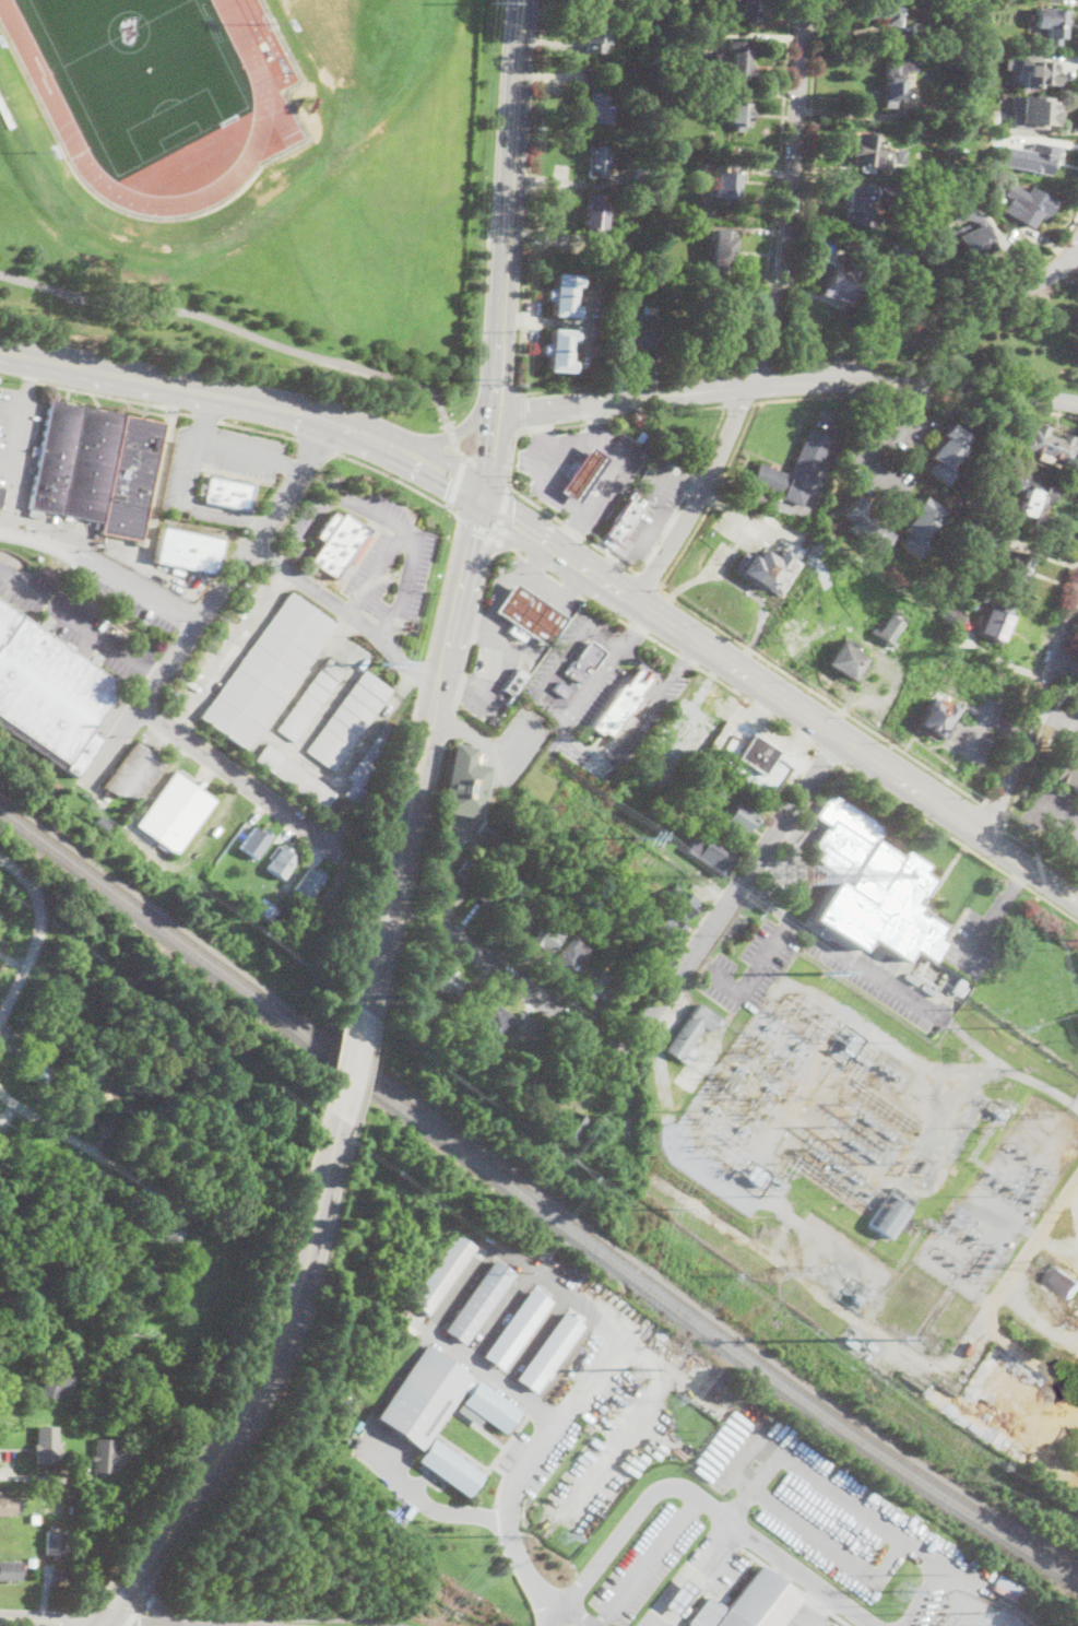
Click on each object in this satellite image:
power tower: (491, 2)
building: (593, 3)
building: (748, 10)
building: (884, 11)
building: (633, 13)
building: (872, 14)
building: (1053, 26)
building: (919, 31)
building: (593, 38)
building: (933, 51)
building: (976, 59)
building: (742, 61)
building: (633, 68)
building: (1033, 70)
park: (140, 72)
building: (901, 76)
track: (269, 104)
building: (601, 108)
building: (1034, 111)
building: (741, 116)
building: (870, 155)
building: (899, 155)
building: (1039, 158)
building: (599, 162)
road: (510, 167)
building: (932, 172)
building: (643, 176)
building: (955, 178)
road: (554, 179)
road: (854, 179)
road: (779, 186)
building: (724, 187)
road: (791, 195)
road: (530, 198)
building: (928, 203)
building: (1029, 205)
building: (855, 207)
building: (597, 214)
building: (638, 224)
building: (928, 226)
building: (974, 241)
building: (899, 250)
building: (722, 251)
building: (842, 257)
building: (820, 266)
building: (655, 283)
building: (843, 285)
building: (710, 290)
building: (674, 292)
building: (564, 295)
road: (948, 311)
building: (720, 316)
road: (541, 320)
park: (212, 326)
road: (236, 328)
building: (641, 331)
park: (1003, 343)
building: (559, 350)
road: (773, 356)
road: (755, 367)
road: (507, 372)
power tower: (467, 379)
road: (630, 380)
road: (913, 382)
road: (765, 384)
road: (187, 387)
road: (733, 388)
road: (114, 396)
road: (812, 397)
road: (626, 398)
road: (924, 398)
road: (739, 403)
road: (208, 409)
road: (522, 411)
road: (204, 415)
road: (637, 415)
road: (483, 416)
road: (597, 417)
road: (541, 425)
road: (257, 428)
road: (451, 434)
parking lot: (20, 435)
building: (641, 435)
road: (433, 438)
road: (318, 441)
building: (1002, 443)
road: (20, 444)
building: (1050, 445)
road: (869, 446)
road: (233, 450)
traffic signals: (481, 450)
road: (457, 452)
building: (946, 455)
road: (470, 457)
road: (498, 457)
road: (632, 457)
parking lot: (216, 458)
road: (493, 460)
road: (430, 464)
road: (291, 467)
building: (97, 469)
building: (793, 471)
road: (509, 475)
building: (584, 475)
gas station: (584, 475)
road: (393, 478)
traffic signals: (451, 479)
road: (457, 481)
road: (689, 481)
building: (225, 493)
building: (1, 495)
road: (301, 495)
road: (697, 495)
building: (987, 497)
road: (193, 499)
road: (187, 502)
parking lot: (654, 504)
building: (1032, 504)
road: (502, 510)
road: (453, 511)
road: (655, 517)
building: (625, 519)
traffic signals: (512, 521)
road: (312, 522)
road: (516, 523)
road: (253, 525)
road: (472, 525)
building: (864, 527)
building: (919, 528)
road: (664, 529)
road: (571, 530)
road: (568, 531)
road: (491, 532)
traffic signals: (476, 533)
building: (981, 538)
road: (499, 541)
building: (339, 543)
road: (398, 546)
road: (491, 547)
road: (472, 549)
building: (188, 551)
parking lot: (377, 553)
road: (542, 561)
road: (103, 567)
road: (618, 567)
building: (763, 567)
building: (1015, 568)
road: (647, 580)
road: (402, 581)
road: (576, 582)
road: (442, 588)
parking lot: (118, 598)
road: (497, 599)
road: (210, 604)
road: (347, 611)
road: (513, 612)
building: (953, 615)
building: (530, 616)
gas station: (530, 616)
building: (994, 621)
road: (473, 622)
parking lot: (75, 624)
road: (475, 626)
road: (80, 627)
road: (635, 627)
road: (695, 638)
road: (661, 643)
road: (1073, 645)
road: (532, 647)
road: (232, 649)
road: (564, 658)
road: (1066, 659)
building: (848, 661)
power tower: (382, 662)
building: (583, 662)
road: (643, 663)
road: (676, 668)
building: (266, 671)
road: (424, 672)
road: (1030, 681)
building: (517, 682)
road: (459, 684)
road: (592, 685)
building: (561, 690)
building: (49, 693)
road: (820, 694)
building: (311, 699)
building: (620, 704)
road: (1031, 712)
parking lot: (112, 715)
building: (935, 717)
road: (1055, 718)
building: (348, 720)
road: (449, 724)
parking lot: (1070, 726)
road: (411, 730)
road: (470, 731)
road: (1036, 737)
parking lot: (523, 738)
road: (618, 741)
road: (510, 747)
road: (831, 753)
building: (759, 754)
road: (296, 756)
building: (365, 768)
building: (1066, 768)
building: (700, 771)
building: (131, 776)
road: (239, 777)
building: (295, 777)
building: (464, 782)
road: (412, 802)
building: (700, 808)
road: (993, 810)
building: (176, 813)
road: (960, 816)
road: (1056, 817)
building: (742, 818)
parking lot: (1055, 820)
building: (102, 822)
building: (690, 822)
building: (490, 834)
power tower: (636, 839)
road: (961, 840)
building: (257, 841)
road: (1035, 851)
building: (494, 852)
building: (711, 852)
building: (624, 861)
building: (284, 862)
building: (471, 872)
road: (23, 874)
road: (411, 879)
building: (310, 883)
road: (376, 885)
road: (381, 885)
building: (873, 886)
road: (1010, 893)
building: (494, 898)
road: (763, 900)
building: (682, 903)
building: (268, 912)
building: (517, 916)
building: (666, 929)
road: (814, 935)
building: (545, 938)
road: (976, 944)
parking lot: (971, 945)
building: (573, 951)
building: (78, 961)
road: (28, 963)
building: (653, 964)
parking lot: (867, 975)
power tower: (822, 976)
road: (666, 977)
building: (447, 982)
building: (958, 986)
building: (592, 987)
power tower: (979, 1015)
building: (496, 1026)
building: (430, 1030)
building: (691, 1033)
road: (337, 1051)
road: (343, 1054)
road: (353, 1063)
building: (35, 1071)
road: (366, 1072)
building: (127, 1088)
building: (530, 1092)
building: (110, 1098)
building: (75, 1103)
building: (481, 1106)
power tower: (869, 1124)
building: (571, 1127)
power substation: (879, 1133)
building: (0, 1144)
power tower: (852, 1145)
building: (0, 1150)
power tower: (867, 1155)
road: (111, 1159)
power tower: (923, 1169)
railway: (534, 1191)
road: (1073, 1197)
railway: (533, 1203)
power tower: (666, 1209)
building: (891, 1213)
building: (156, 1234)
building: (147, 1235)
building: (176, 1238)
road: (289, 1259)
road: (296, 1263)
power tower: (1040, 1268)
building: (206, 1269)
building: (441, 1272)
power tower: (778, 1276)
building: (1065, 1281)
building: (478, 1300)
building: (645, 1321)
building: (517, 1329)
building: (850, 1343)
building: (869, 1346)
building: (549, 1351)
road: (273, 1352)
power tower: (635, 1370)
road: (284, 1372)
building: (55, 1380)
road: (663, 1390)
building: (423, 1395)
power tower: (674, 1402)
building: (490, 1405)
road: (600, 1419)
power tower: (695, 1440)
building: (46, 1444)
road: (454, 1446)
road: (537, 1446)
parking lot: (540, 1449)
building: (105, 1454)
parking lot: (612, 1457)
building: (449, 1465)
road: (37, 1476)
road: (501, 1481)
building: (71, 1492)
road: (699, 1499)
road: (165, 1500)
building: (9, 1505)
road: (741, 1505)
road: (430, 1506)
parking lot: (832, 1512)
building: (34, 1519)
road: (498, 1524)
power tower: (493, 1537)
power tower: (562, 1540)
building: (54, 1543)
building: (31, 1562)
road: (647, 1563)
parking lot: (644, 1564)
building: (9, 1570)
road: (875, 1576)
road: (933, 1576)
road: (521, 1582)
road: (125, 1593)
power tower: (899, 1593)
building: (680, 1596)
road: (150, 1599)
road: (149, 1600)
building: (750, 1604)
road: (88, 1605)
road: (117, 1605)
road: (162, 1605)
power tower: (875, 1607)
road: (816, 1609)
road: (140, 1610)
power substation: (973, 1612)
power tower: (900, 1615)
road: (73, 1616)
road: (577, 1616)
parking lot: (808, 1617)
road: (283, 1618)
road: (130, 1619)
road: (50, 1621)
traffic signals: (102, 1624)
road: (130, 1624)
road: (100, 1625)
road: (663, 1625)

